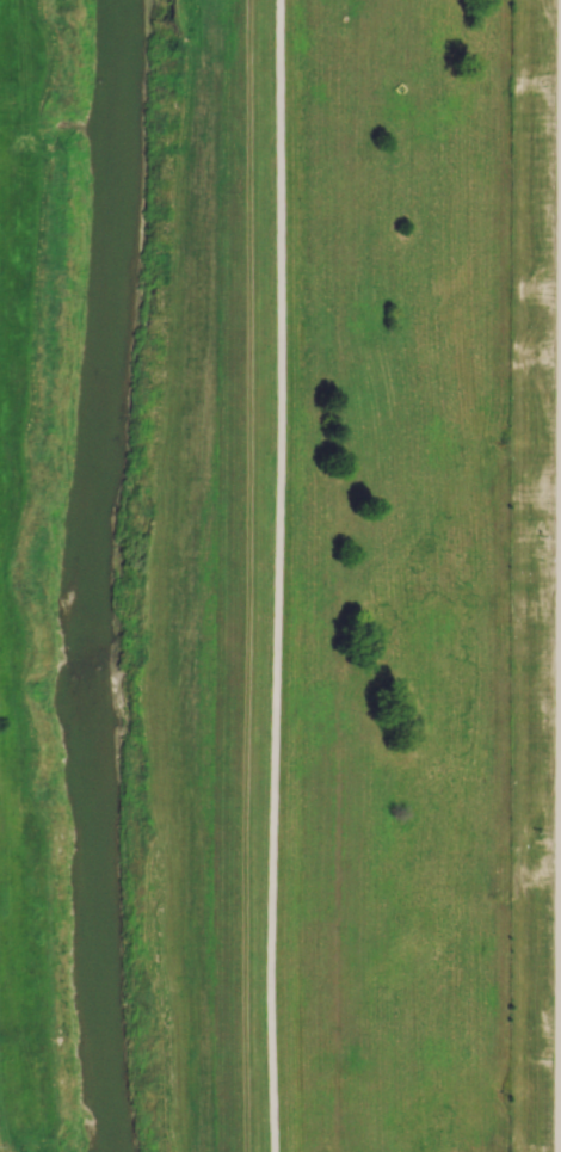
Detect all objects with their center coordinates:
river: (84, 575)
road: (246, 575)
road: (280, 575)
road: (0, 1146)
park: (7, 1151)
road: (14, 1151)

